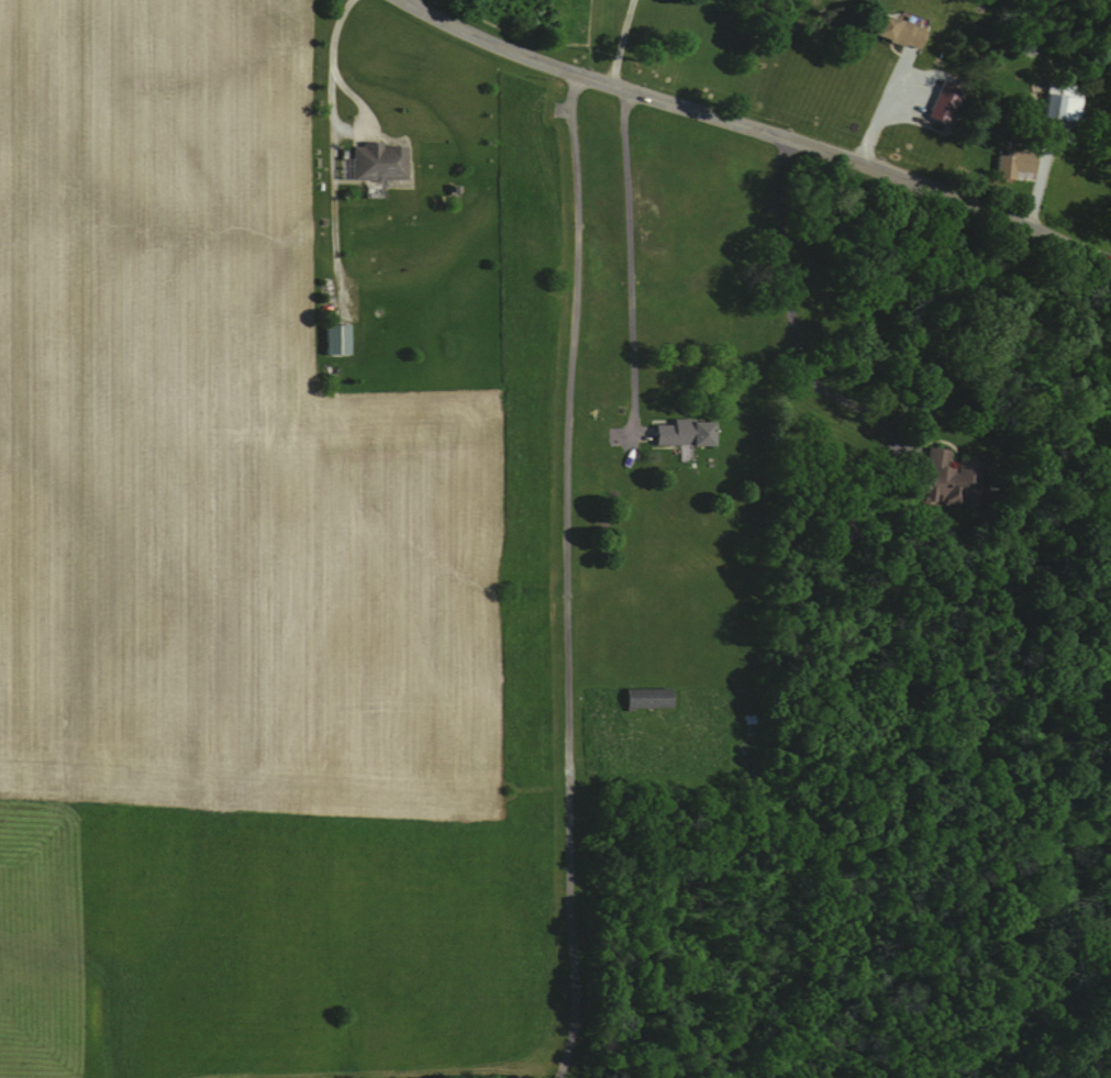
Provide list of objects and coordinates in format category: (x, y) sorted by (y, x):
road: (408, 0)
road: (333, 30)
building: (893, 31)
road: (619, 41)
building: (1058, 101)
building: (941, 103)
road: (352, 120)
road: (758, 130)
building: (374, 162)
building: (1011, 163)
road: (630, 255)
road: (789, 313)
building: (332, 340)
building: (680, 433)
building: (947, 479)
road: (567, 577)
building: (644, 698)

